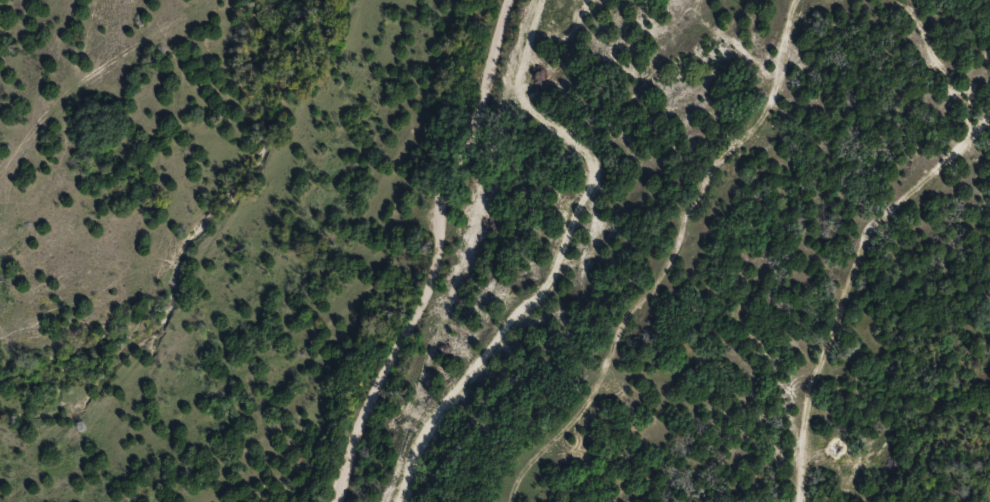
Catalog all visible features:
road: (939, 457)

